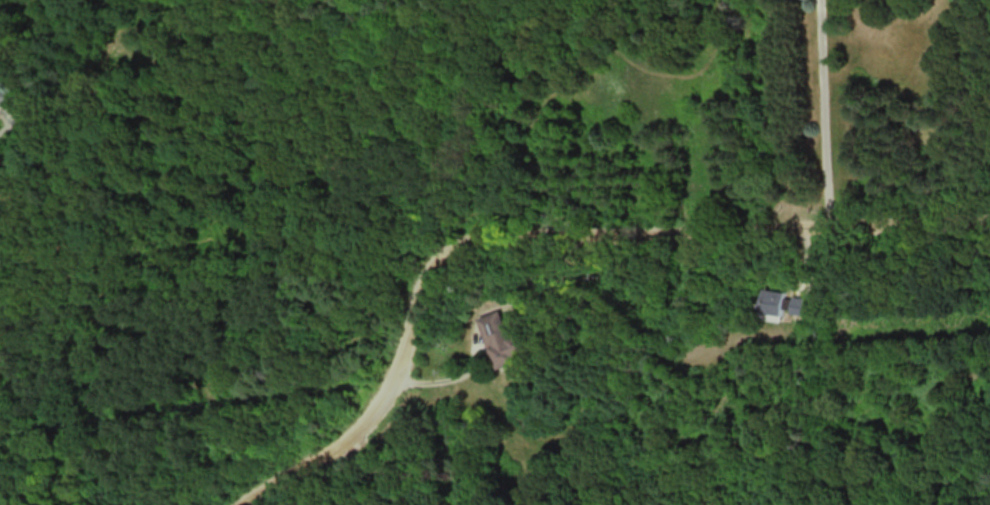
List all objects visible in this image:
road: (4, 71)
road: (824, 113)
road: (546, 237)
building: (775, 301)
building: (501, 346)
road: (375, 470)

